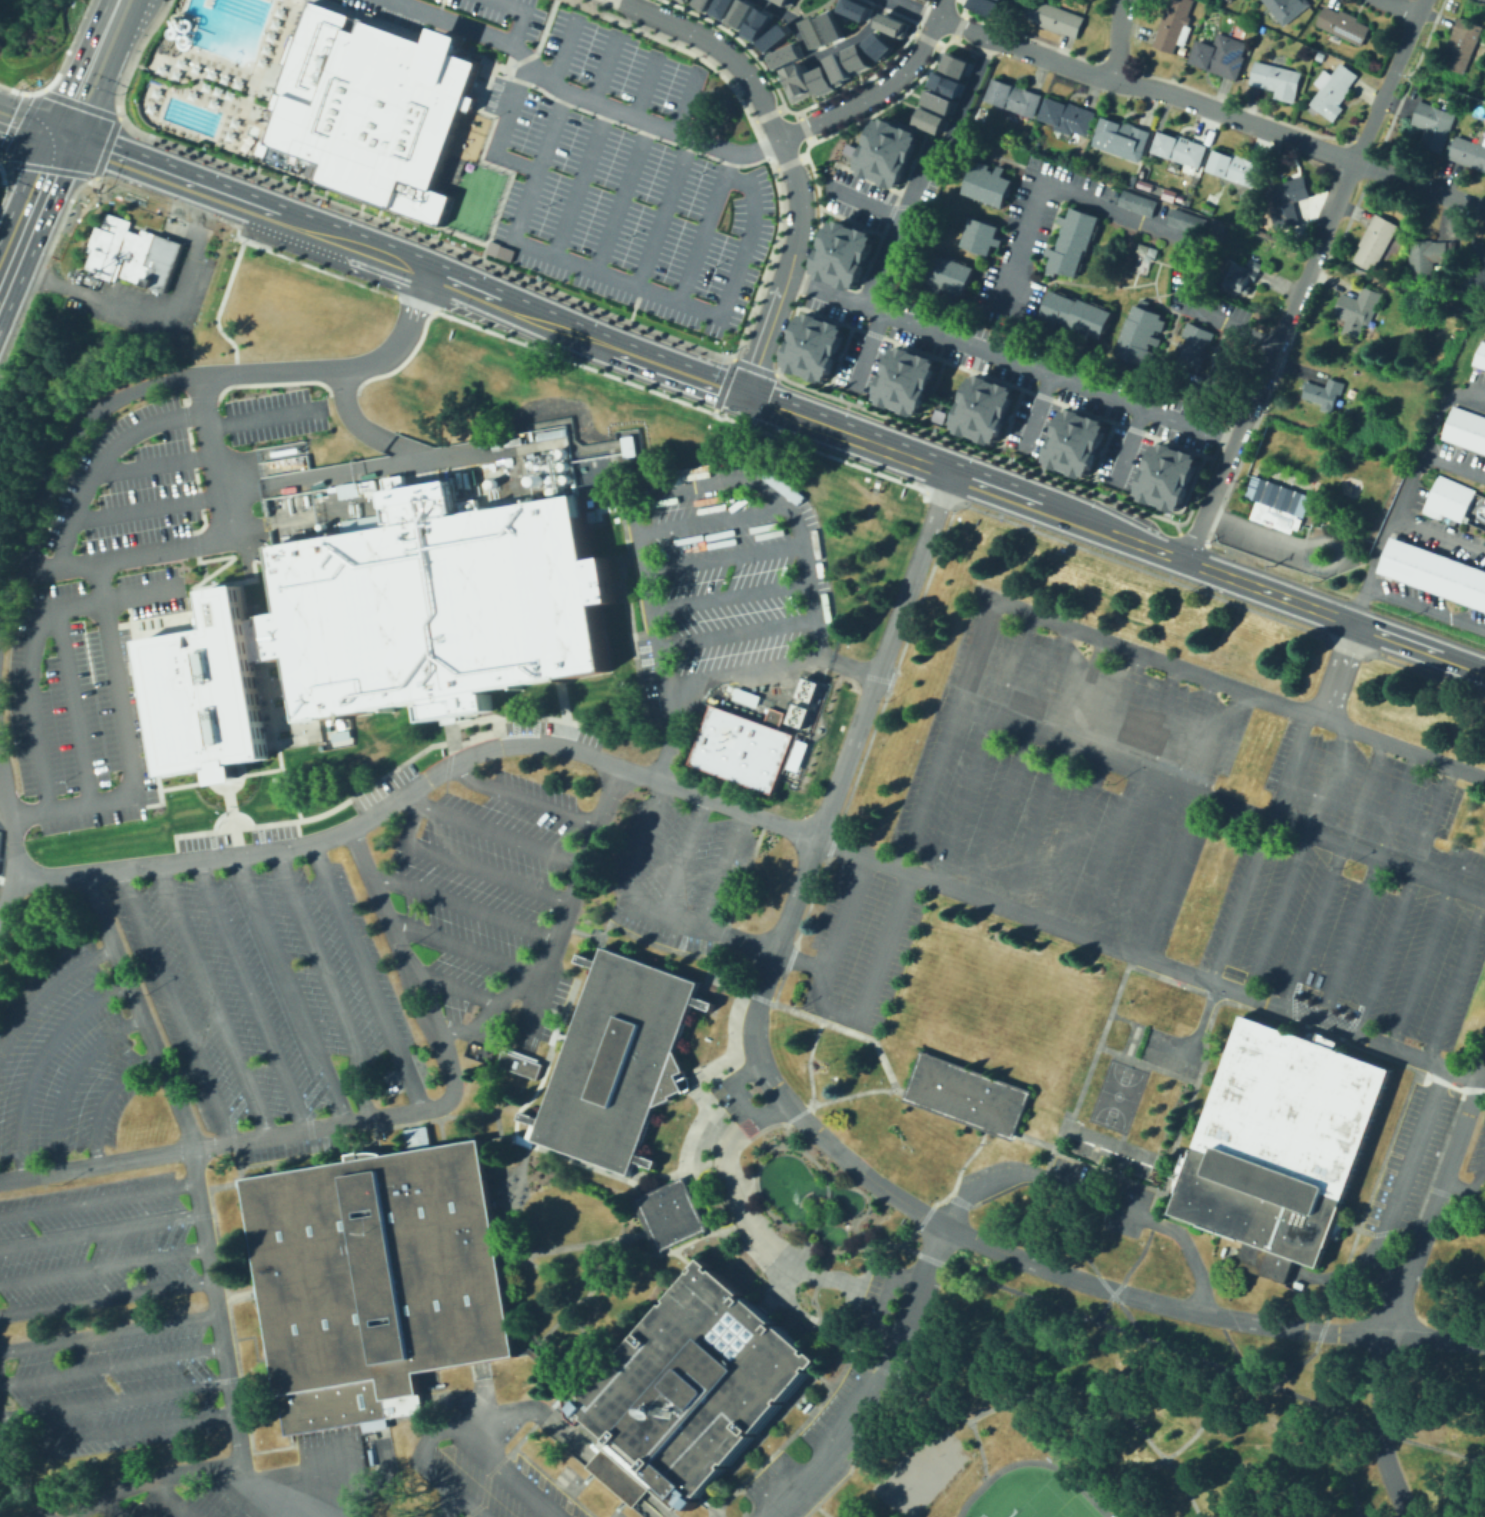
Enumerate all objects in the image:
building: (683, 0)
road: (207, 2)
building: (790, 2)
building: (1083, 3)
building: (702, 4)
building: (988, 6)
road: (1401, 7)
building: (721, 8)
road: (815, 8)
building: (853, 8)
road: (914, 8)
building: (1285, 9)
road: (797, 10)
road: (687, 13)
building: (739, 13)
road: (519, 14)
building: (1054, 17)
road: (16, 19)
building: (755, 24)
building: (891, 24)
building: (1343, 25)
building: (830, 26)
building: (1174, 26)
road: (964, 27)
building: (813, 31)
building: (1262, 33)
road: (1118, 36)
building: (773, 37)
building: (878, 44)
building: (1462, 44)
road: (563, 49)
building: (1182, 50)
road: (819, 54)
building: (1319, 54)
building: (1484, 54)
building: (784, 55)
building: (1220, 55)
building: (855, 58)
road: (58, 64)
road: (604, 65)
building: (959, 66)
road: (979, 66)
building: (838, 68)
road: (91, 69)
building: (1277, 77)
road: (223, 80)
building: (821, 80)
building: (795, 83)
road: (645, 84)
building: (950, 85)
road: (880, 91)
building: (1333, 91)
road: (1174, 93)
road: (578, 95)
building: (1014, 97)
road: (686, 99)
building: (942, 102)
building: (373, 107)
road: (113, 115)
building: (1068, 116)
road: (12, 120)
building: (1431, 120)
building: (934, 122)
road: (502, 125)
road: (30, 127)
traffic signals: (61, 138)
building: (1122, 138)
building: (1180, 150)
building: (887, 151)
building: (1469, 152)
road: (787, 160)
parking lot: (611, 161)
building: (1235, 167)
road: (579, 180)
building: (1133, 181)
building: (987, 182)
road: (1419, 184)
road: (36, 185)
road: (82, 191)
road: (620, 195)
parking lot: (857, 198)
road: (865, 201)
building: (1136, 201)
building: (1288, 201)
building: (1208, 208)
road: (30, 209)
parking lot: (1161, 210)
road: (662, 211)
road: (1131, 216)
building: (1187, 220)
parking lot: (913, 223)
road: (899, 228)
building: (979, 235)
building: (1070, 240)
building: (1375, 241)
parking lot: (1024, 243)
building: (498, 250)
building: (1477, 250)
building: (131, 253)
building: (844, 253)
building: (1426, 257)
road: (738, 258)
building: (1142, 258)
road: (596, 271)
building: (950, 276)
building: (1238, 279)
road: (1304, 279)
building: (1475, 282)
road: (1023, 287)
parking lot: (1177, 289)
parking lot: (1231, 309)
building: (1358, 310)
road: (147, 311)
building: (1077, 315)
building: (1142, 335)
building: (185, 337)
building: (814, 346)
building: (1196, 346)
parking lot: (855, 347)
building: (1359, 347)
road: (866, 349)
road: (622, 350)
building: (1479, 354)
parking lot: (1051, 356)
road: (1012, 359)
road: (342, 366)
building: (907, 378)
building: (1193, 386)
parking lot: (1032, 392)
building: (1325, 393)
traffic signals: (742, 398)
building: (985, 407)
building: (1370, 410)
road: (1036, 411)
building: (1465, 428)
road: (366, 429)
building: (550, 432)
road: (1428, 434)
building: (1076, 440)
parking lot: (1116, 442)
building: (628, 445)
road: (1127, 445)
road: (56, 455)
road: (102, 457)
road: (216, 458)
road: (392, 464)
road: (153, 466)
building: (1168, 475)
road: (1407, 484)
building: (1447, 499)
building: (502, 501)
building: (1278, 503)
road: (146, 507)
road: (634, 513)
road: (1109, 516)
road: (266, 521)
building: (363, 522)
road: (688, 523)
road: (1389, 523)
road: (1249, 535)
road: (722, 555)
road: (123, 559)
building: (1434, 571)
parking lot: (725, 577)
road: (728, 594)
building: (438, 605)
road: (1425, 605)
road: (1334, 613)
parking lot: (101, 619)
building: (199, 622)
road: (735, 629)
building: (256, 638)
road: (31, 640)
road: (851, 667)
road: (1340, 670)
road: (1233, 684)
building: (203, 692)
building: (807, 692)
road: (74, 707)
building: (447, 719)
parking lot: (554, 729)
road: (945, 731)
road: (672, 733)
road: (852, 734)
road: (983, 744)
road: (128, 745)
building: (742, 746)
building: (795, 754)
road: (1017, 757)
road: (1055, 771)
parking lot: (1065, 775)
road: (1093, 784)
parking lot: (386, 785)
road: (524, 794)
road: (706, 797)
road: (1127, 797)
road: (1219, 799)
road: (390, 803)
road: (1164, 810)
road: (1191, 820)
road: (496, 826)
road: (1259, 844)
road: (13, 849)
road: (682, 856)
road: (1297, 858)
road: (1453, 859)
road: (467, 864)
road: (720, 867)
road: (94, 870)
parking lot: (675, 870)
road: (1332, 871)
parking lot: (478, 875)
road: (1368, 884)
parking lot: (1359, 892)
road: (1403, 897)
road: (460, 905)
road: (666, 919)
road: (560, 925)
road: (461, 944)
road: (1425, 953)
road: (1147, 955)
road: (367, 975)
road: (325, 977)
road: (1457, 979)
road: (456, 986)
road: (291, 988)
parking lot: (282, 991)
road: (253, 993)
road: (45, 997)
road: (214, 999)
road: (179, 1003)
road: (535, 1004)
road: (839, 1013)
road: (832, 1025)
road: (1196, 1031)
building: (557, 1034)
road: (733, 1045)
road: (808, 1060)
road: (41, 1061)
building: (617, 1061)
parking lot: (66, 1063)
building: (519, 1064)
flagpole: (819, 1065)
road: (75, 1080)
road: (451, 1084)
road: (900, 1091)
building: (966, 1095)
park: (1116, 1095)
road: (742, 1099)
road: (113, 1102)
road: (810, 1102)
road: (480, 1110)
building: (416, 1136)
building: (513, 1137)
road: (498, 1139)
building: (1278, 1146)
road: (802, 1151)
parking lot: (1476, 1156)
parking lot: (1409, 1162)
road: (95, 1163)
road: (602, 1170)
road: (1403, 1178)
road: (1481, 1181)
road: (1462, 1187)
road: (941, 1188)
road: (693, 1191)
road: (827, 1191)
road: (99, 1200)
road: (1092, 1200)
road: (742, 1211)
road: (823, 1212)
building: (669, 1214)
road: (814, 1228)
road: (102, 1233)
road: (1353, 1236)
road: (573, 1242)
parking lot: (97, 1243)
road: (208, 1243)
road: (867, 1244)
road: (798, 1246)
road: (667, 1253)
road: (104, 1268)
road: (869, 1268)
road: (1056, 1271)
road: (603, 1276)
building: (376, 1279)
road: (776, 1284)
road: (1399, 1284)
parking lot: (889, 1295)
road: (1030, 1297)
road: (107, 1299)
road: (914, 1299)
road: (570, 1300)
road: (110, 1333)
road: (113, 1368)
road: (549, 1369)
parking lot: (117, 1389)
building: (689, 1390)
road: (117, 1401)
road: (557, 1401)
road: (1107, 1402)
road: (952, 1408)
road: (507, 1413)
road: (1203, 1418)
road: (122, 1433)
road: (1333, 1434)
road: (1398, 1437)
road: (832, 1448)
road: (7, 1449)
park: (929, 1471)
road: (509, 1472)
road: (616, 1475)
parking lot: (487, 1484)
track: (981, 1484)
road: (449, 1485)
road: (251, 1492)
road: (173, 1498)
parking lot: (186, 1502)
park: (1051, 1502)
road: (812, 1504)
road: (470, 1505)
road: (651, 1506)
road: (112, 1508)

